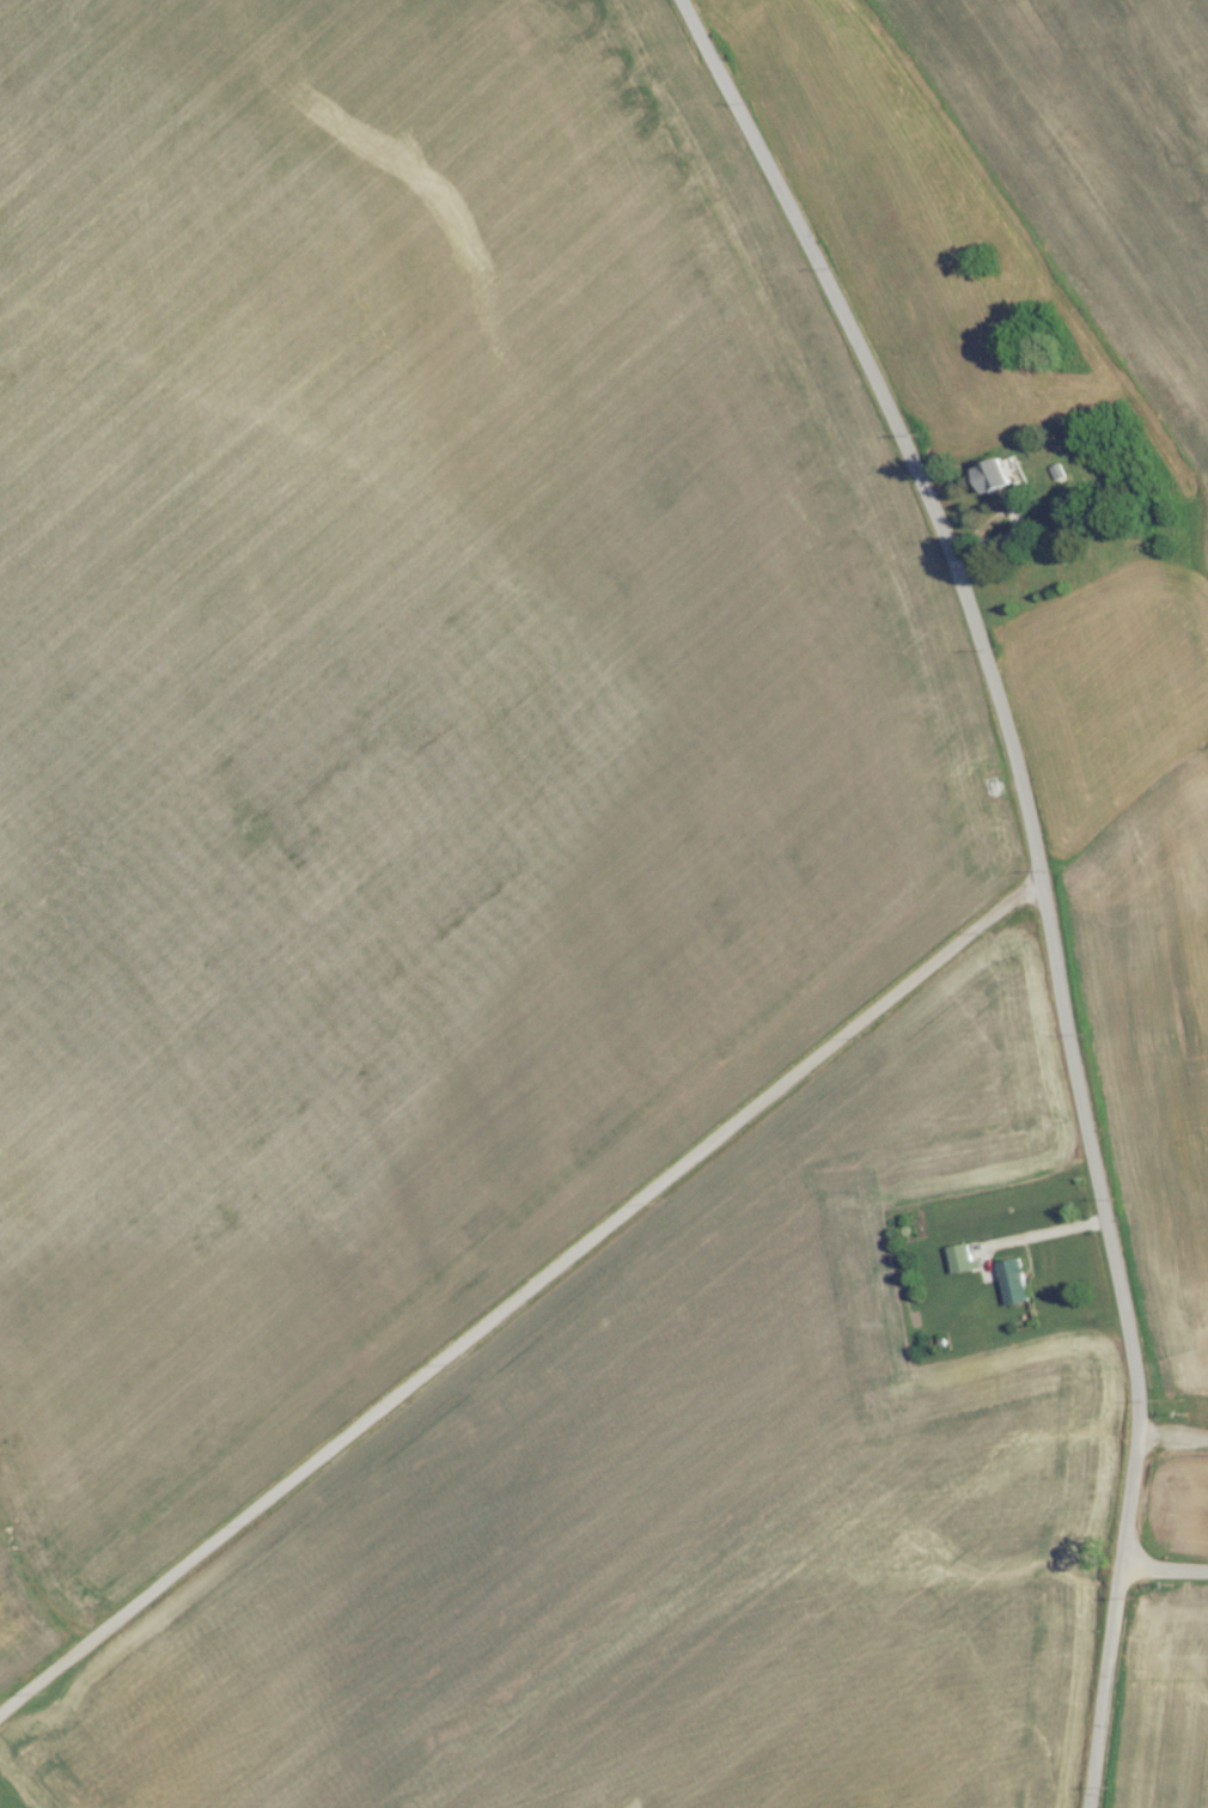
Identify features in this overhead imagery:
building: (999, 482)
road: (1033, 872)
building: (963, 1265)
building: (1014, 1289)
road: (517, 1307)
road: (1173, 1438)
road: (1163, 1575)

